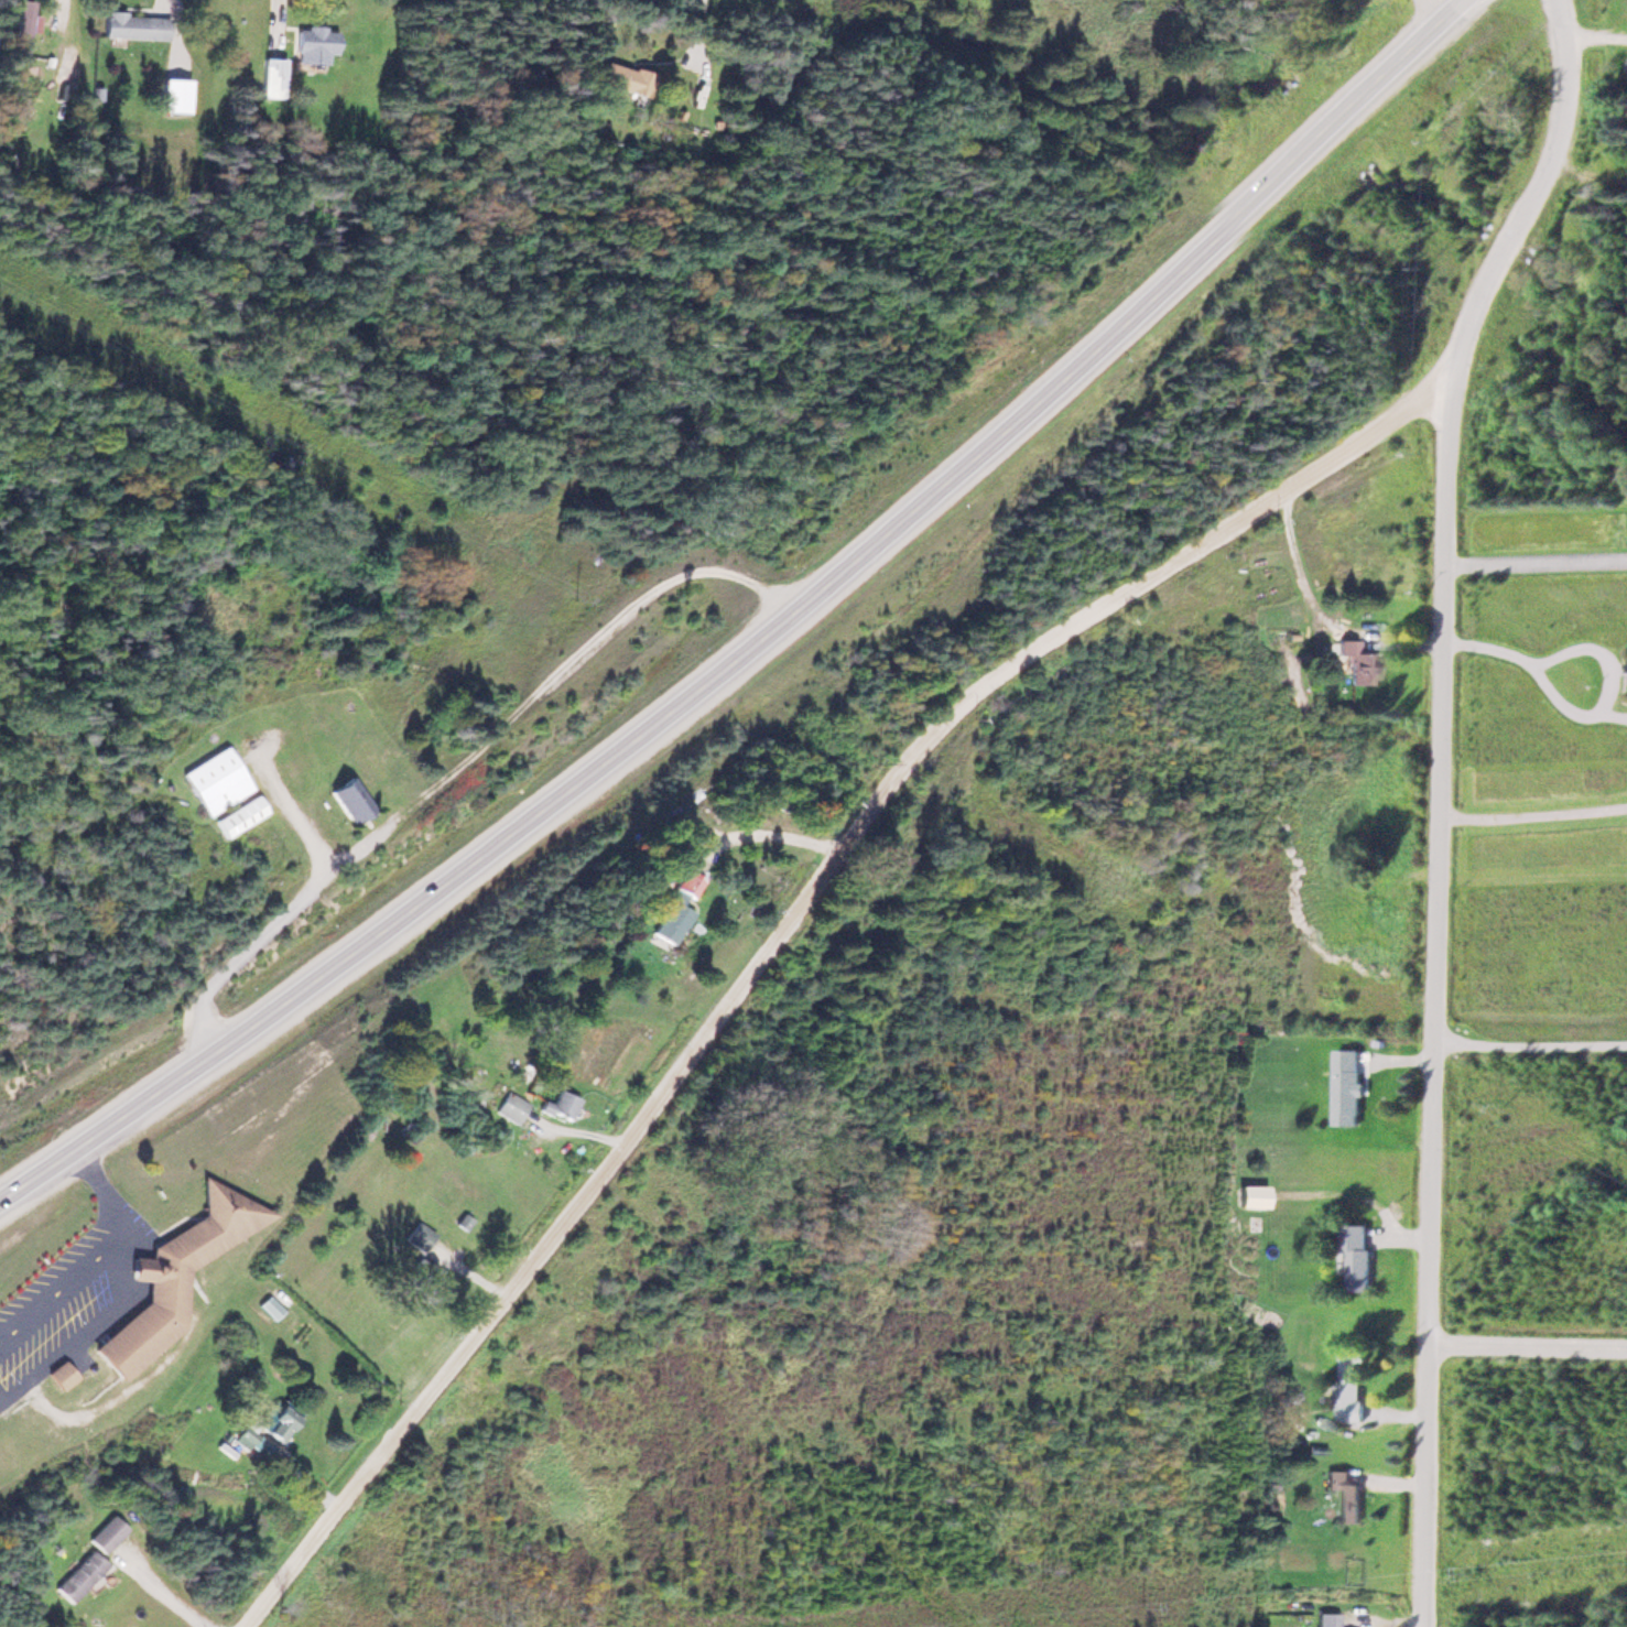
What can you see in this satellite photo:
road: (1438, 7)
building: (132, 23)
building: (19, 33)
building: (311, 42)
building: (269, 75)
building: (620, 76)
road: (760, 640)
building: (1349, 658)
road: (457, 758)
building: (213, 777)
building: (348, 796)
road: (1440, 800)
road: (282, 804)
building: (236, 812)
building: (671, 907)
road: (773, 928)
road: (1531, 1045)
building: (1346, 1085)
building: (557, 1104)
building: (508, 1105)
road: (99, 1189)
building: (1248, 1194)
building: (416, 1236)
building: (1357, 1254)
road: (137, 1259)
building: (172, 1272)
road: (59, 1277)
building: (422, 1282)
parking lot: (52, 1299)
road: (88, 1323)
road: (1530, 1353)
building: (57, 1371)
building: (1352, 1384)
building: (275, 1422)
building: (1343, 1494)
building: (102, 1531)
building: (77, 1573)
building: (1323, 1619)

